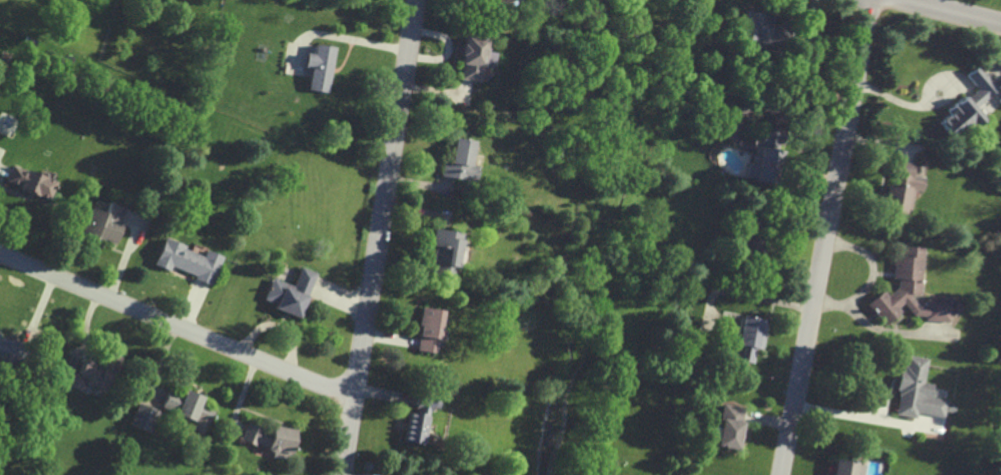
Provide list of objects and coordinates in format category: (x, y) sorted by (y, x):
building: (498, 1)
road: (942, 13)
building: (758, 28)
road: (345, 40)
building: (472, 58)
building: (319, 67)
road: (904, 103)
building: (968, 105)
building: (459, 161)
building: (29, 182)
building: (903, 186)
building: (103, 223)
road: (378, 237)
road: (830, 237)
building: (444, 252)
building: (188, 261)
road: (874, 262)
building: (910, 290)
road: (740, 291)
building: (290, 293)
road: (177, 326)
road: (875, 326)
building: (429, 330)
building: (749, 338)
building: (8, 351)
building: (91, 374)
building: (918, 391)
building: (183, 404)
road: (849, 413)
building: (143, 417)
building: (418, 418)
building: (202, 420)
building: (729, 426)
building: (272, 440)
building: (849, 468)

